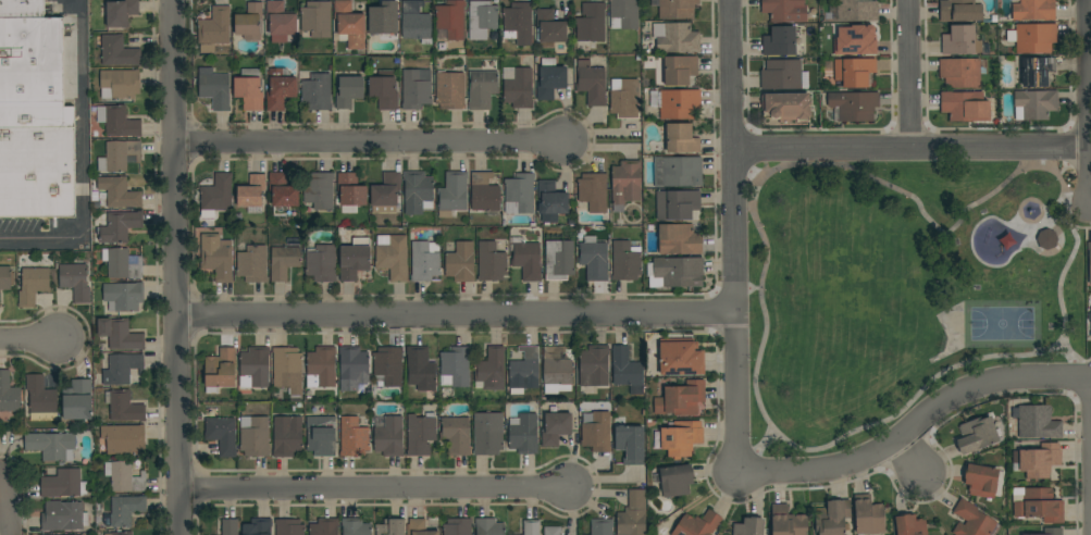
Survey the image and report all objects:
building: (119, 0)
building: (22, 9)
building: (677, 9)
building: (784, 10)
building: (857, 10)
building: (1034, 10)
building: (959, 11)
building: (121, 13)
building: (623, 14)
building: (481, 18)
building: (317, 20)
building: (347, 20)
building: (450, 20)
building: (383, 21)
building: (249, 22)
building: (281, 22)
building: (416, 22)
building: (591, 23)
building: (518, 24)
building: (549, 28)
building: (214, 29)
building: (675, 38)
building: (1034, 38)
building: (780, 41)
building: (854, 41)
building: (960, 41)
building: (119, 51)
building: (680, 70)
building: (854, 72)
building: (1036, 72)
building: (960, 73)
building: (33, 75)
building: (781, 75)
road: (909, 75)
building: (549, 79)
building: (591, 83)
building: (120, 84)
building: (518, 87)
building: (280, 88)
building: (416, 88)
building: (214, 89)
building: (482, 89)
building: (249, 90)
building: (384, 90)
building: (450, 90)
building: (348, 91)
building: (317, 92)
building: (625, 100)
road: (1089, 103)
building: (679, 104)
building: (1034, 104)
building: (853, 105)
building: (960, 105)
building: (786, 107)
building: (117, 122)
building: (677, 140)
road: (371, 145)
road: (912, 151)
road: (80, 154)
building: (119, 155)
road: (1071, 162)
road: (745, 170)
building: (678, 172)
building: (37, 173)
building: (625, 183)
building: (283, 190)
building: (319, 190)
building: (350, 190)
building: (251, 191)
building: (593, 191)
building: (119, 192)
building: (417, 192)
building: (484, 192)
building: (386, 194)
building: (216, 195)
building: (452, 195)
building: (519, 195)
building: (550, 201)
building: (677, 204)
road: (754, 206)
road: (1081, 214)
building: (120, 226)
road: (734, 238)
building: (679, 239)
building: (1046, 239)
building: (392, 256)
building: (355, 259)
building: (526, 259)
building: (594, 259)
building: (218, 260)
building: (559, 260)
building: (1089, 260)
building: (283, 261)
building: (424, 261)
building: (625, 261)
building: (491, 262)
building: (321, 263)
building: (460, 263)
building: (121, 264)
building: (252, 264)
road: (176, 267)
building: (677, 272)
building: (4, 278)
building: (75, 282)
building: (33, 286)
road: (747, 289)
park: (902, 290)
building: (124, 297)
road: (456, 315)
building: (1089, 316)
park: (1003, 324)
building: (1090, 334)
building: (120, 335)
road: (30, 340)
building: (680, 358)
road: (1078, 362)
building: (354, 364)
building: (322, 365)
building: (388, 365)
building: (456, 365)
building: (556, 366)
building: (594, 366)
building: (255, 368)
building: (524, 368)
building: (121, 369)
building: (221, 369)
building: (420, 369)
building: (491, 369)
building: (287, 370)
building: (627, 370)
building: (556, 388)
building: (9, 394)
building: (41, 399)
building: (681, 399)
building: (77, 400)
building: (124, 407)
building: (1037, 422)
road: (916, 425)
building: (555, 428)
building: (596, 431)
building: (221, 434)
building: (421, 434)
building: (487, 434)
building: (523, 434)
building: (321, 435)
building: (456, 435)
building: (976, 435)
building: (255, 436)
building: (287, 436)
building: (352, 437)
building: (389, 437)
building: (681, 438)
building: (124, 439)
building: (630, 444)
building: (51, 446)
road: (758, 447)
road: (912, 459)
building: (1040, 460)
building: (124, 477)
building: (675, 480)
building: (983, 481)
building: (63, 484)
road: (376, 490)
building: (1037, 505)
building: (126, 510)
road: (9, 512)
building: (633, 514)
building: (868, 515)
building: (63, 517)
building: (832, 518)
building: (971, 520)
building: (786, 522)
building: (697, 524)
building: (910, 525)
building: (258, 526)
building: (324, 526)
building: (356, 526)
building: (457, 526)
building: (602, 526)
building: (749, 526)
building: (230, 527)
building: (289, 527)
building: (390, 527)
building: (419, 527)
building: (488, 527)
building: (531, 527)
building: (551, 531)
building: (1053, 531)
building: (120, 533)
building: (75, 534)

